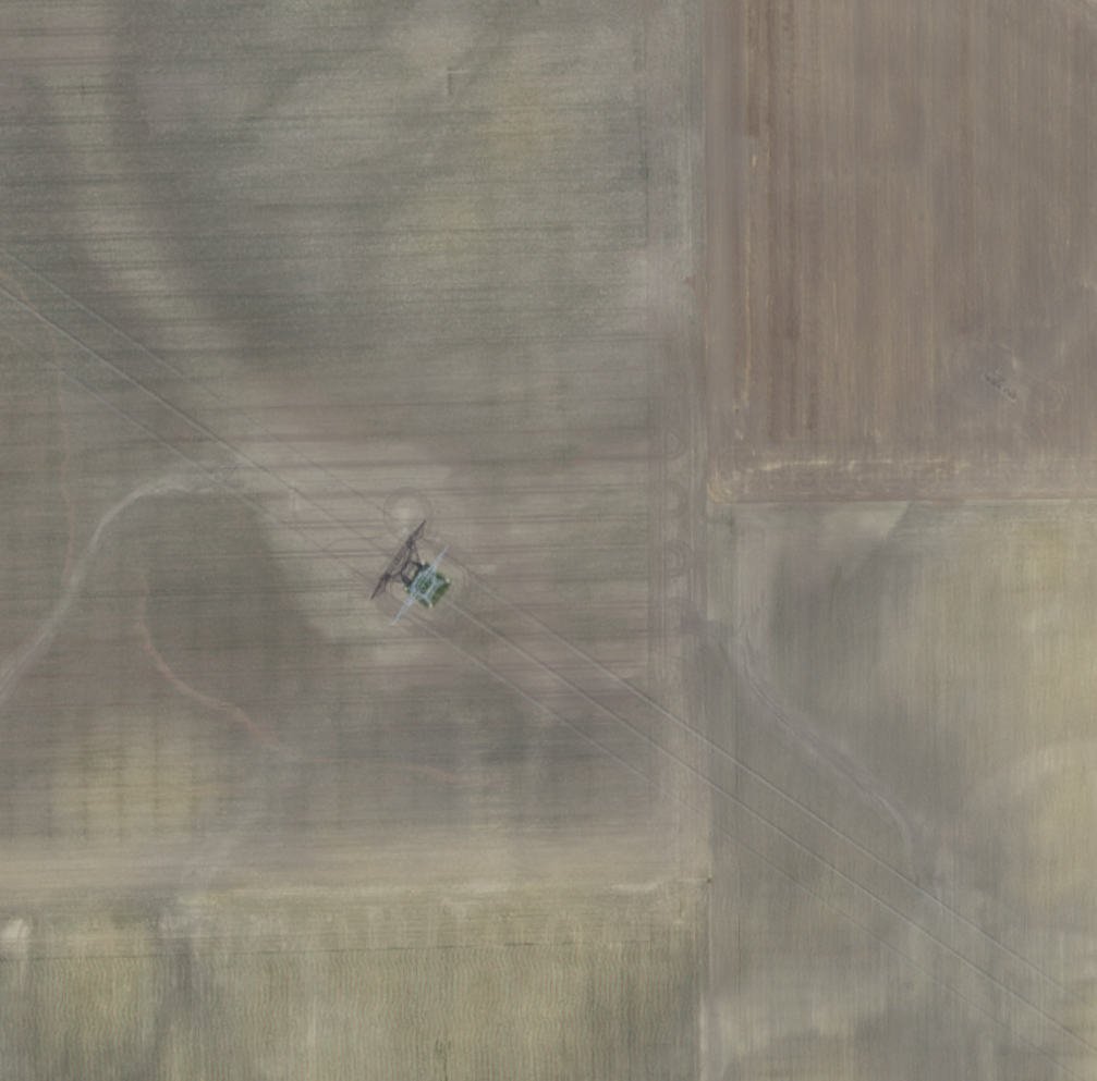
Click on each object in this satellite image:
power tower: (435, 591)

